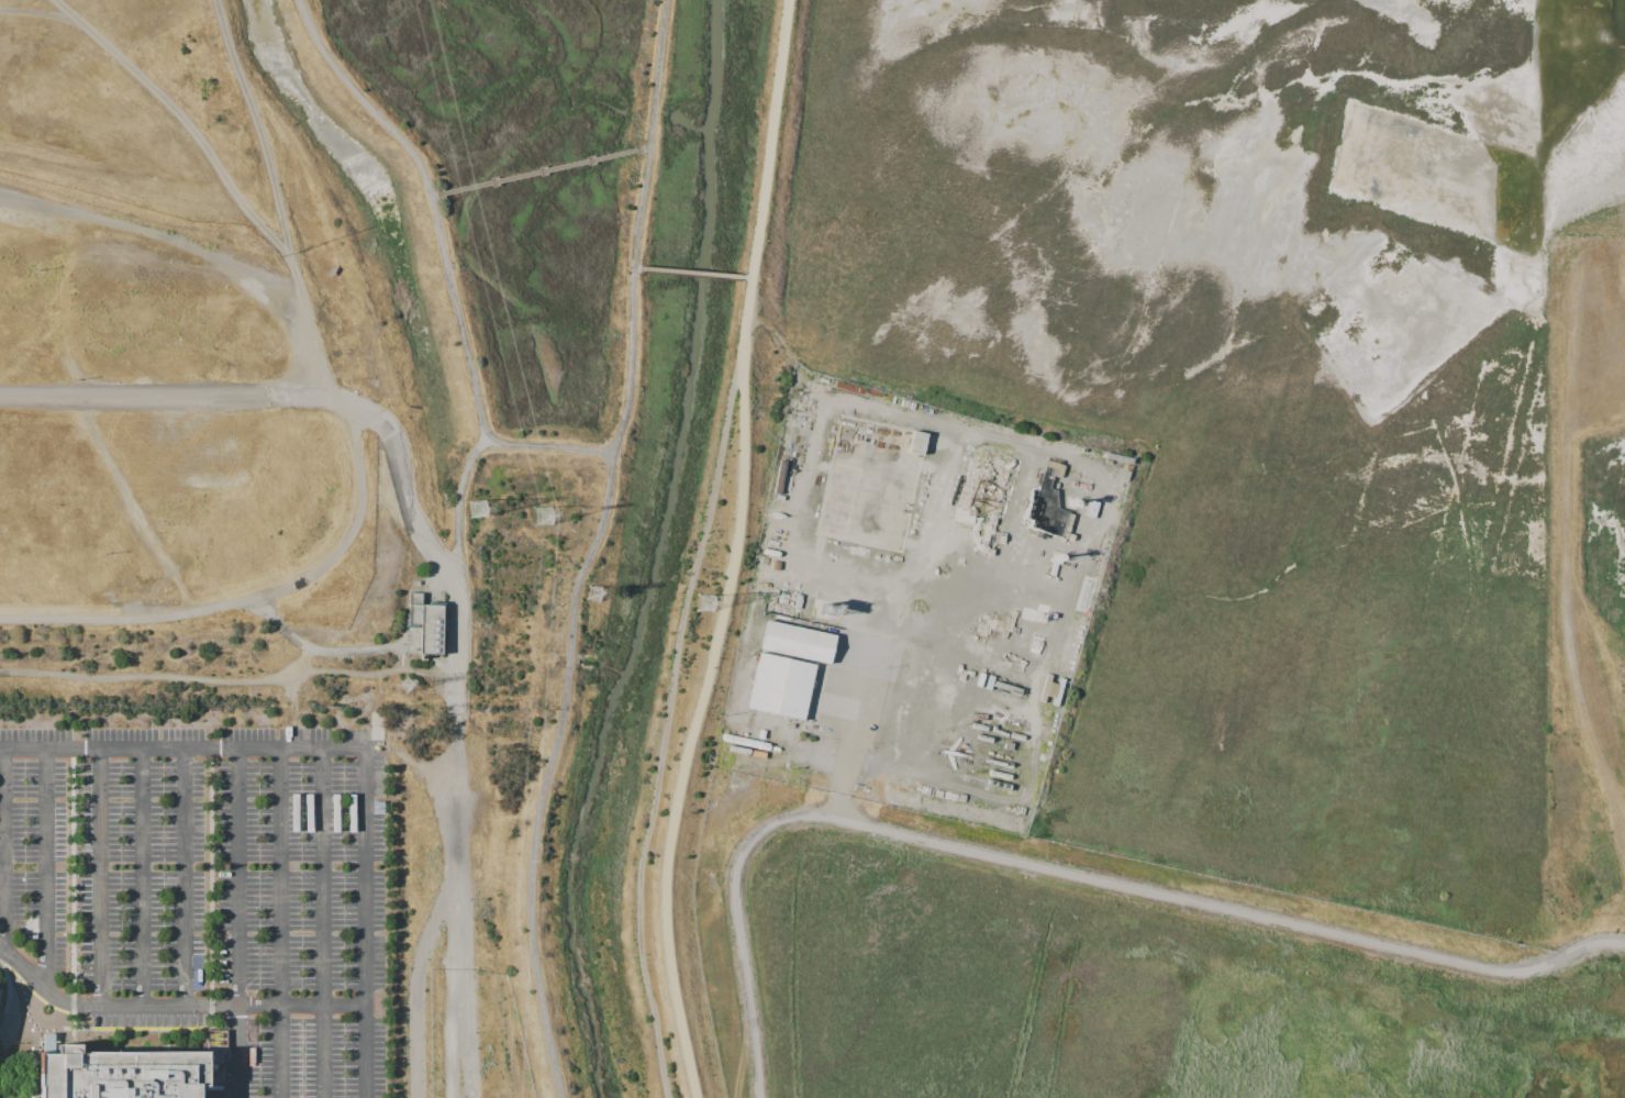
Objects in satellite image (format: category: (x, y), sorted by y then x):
road: (35, 9)
road: (185, 117)
road: (649, 134)
road: (768, 137)
road: (539, 170)
road: (279, 204)
street lamp: (237, 229)
road: (156, 232)
road: (446, 258)
road: (636, 267)
street lamp: (37, 269)
road: (692, 271)
road: (748, 276)
park: (211, 325)
road: (630, 361)
street lamp: (73, 380)
road: (176, 396)
parking lot: (168, 432)
building: (916, 441)
road: (402, 488)
building: (1047, 503)
road: (461, 504)
power tower: (477, 508)
power tower: (543, 514)
street lamp: (104, 555)
power tower: (593, 592)
road: (252, 600)
power tower: (705, 601)
building: (424, 626)
building: (797, 641)
road: (457, 648)
road: (323, 652)
road: (297, 668)
road: (226, 683)
power tower: (404, 684)
building: (780, 685)
road: (704, 688)
road: (672, 711)
street lamp: (115, 727)
street lamp: (153, 727)
street lamp: (180, 727)
street lamp: (211, 727)
street lamp: (238, 727)
street lamp: (269, 727)
street lamp: (303, 727)
street lamp: (343, 727)
street lamp: (367, 727)
street lamp: (18, 728)
street lamp: (53, 728)
street lamp: (85, 728)
road: (181, 750)
road: (411, 757)
road: (548, 772)
street lamp: (259, 773)
street lamp: (301, 773)
street lamp: (344, 773)
street lamp: (207, 813)
street lamp: (259, 813)
street lamp: (301, 813)
street lamp: (344, 813)
street lamp: (344, 849)
road: (4, 850)
street lamp: (259, 850)
street lamp: (302, 850)
road: (45, 868)
parking lot: (114, 868)
road: (1061, 872)
road: (100, 877)
road: (142, 877)
road: (183, 877)
street lamp: (205, 877)
street lamp: (259, 877)
street lamp: (301, 877)
street lamp: (344, 877)
road: (74, 881)
road: (211, 888)
street lamp: (259, 907)
street lamp: (302, 907)
street lamp: (344, 907)
road: (459, 907)
street lamp: (207, 908)
parking lot: (302, 910)
road: (281, 922)
road: (365, 922)
road: (237, 923)
road: (322, 923)
street lamp: (259, 947)
street lamp: (302, 947)
street lamp: (344, 947)
road: (0, 962)
street lamp: (207, 980)
street lamp: (259, 984)
street lamp: (301, 984)
street lamp: (344, 984)
road: (4, 990)
building: (0, 991)
road: (172, 1006)
road: (465, 1027)
road: (138, 1029)
road: (199, 1029)
road: (86, 1035)
road: (0, 1041)
building: (48, 1042)
road: (36, 1071)
building: (121, 1074)

